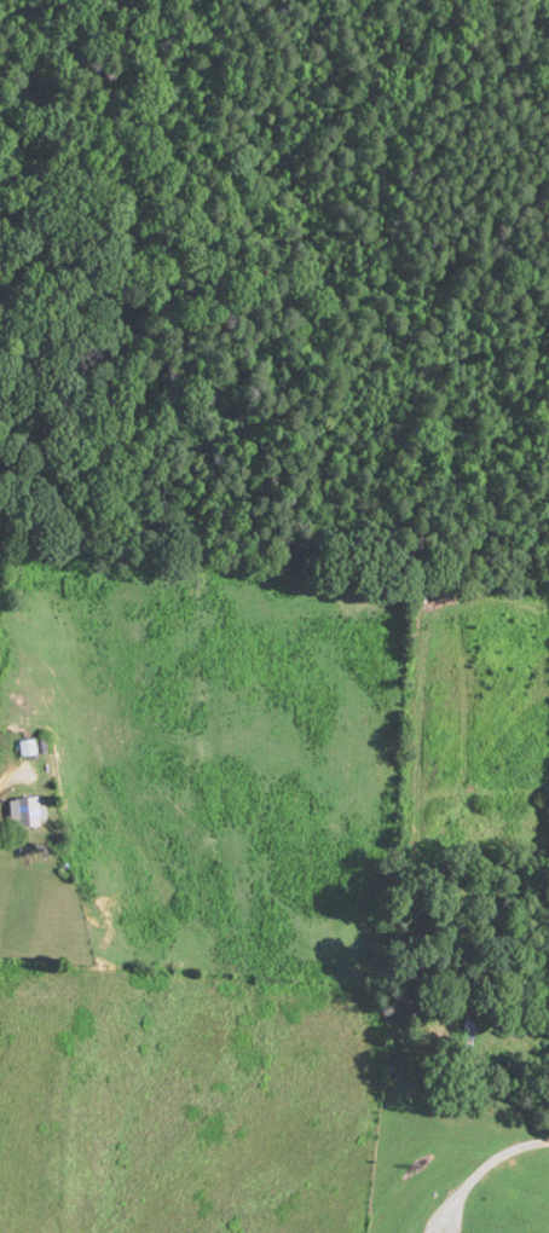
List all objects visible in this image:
building: (30, 746)
road: (11, 772)
building: (36, 810)
building: (470, 1031)
road: (486, 1165)

